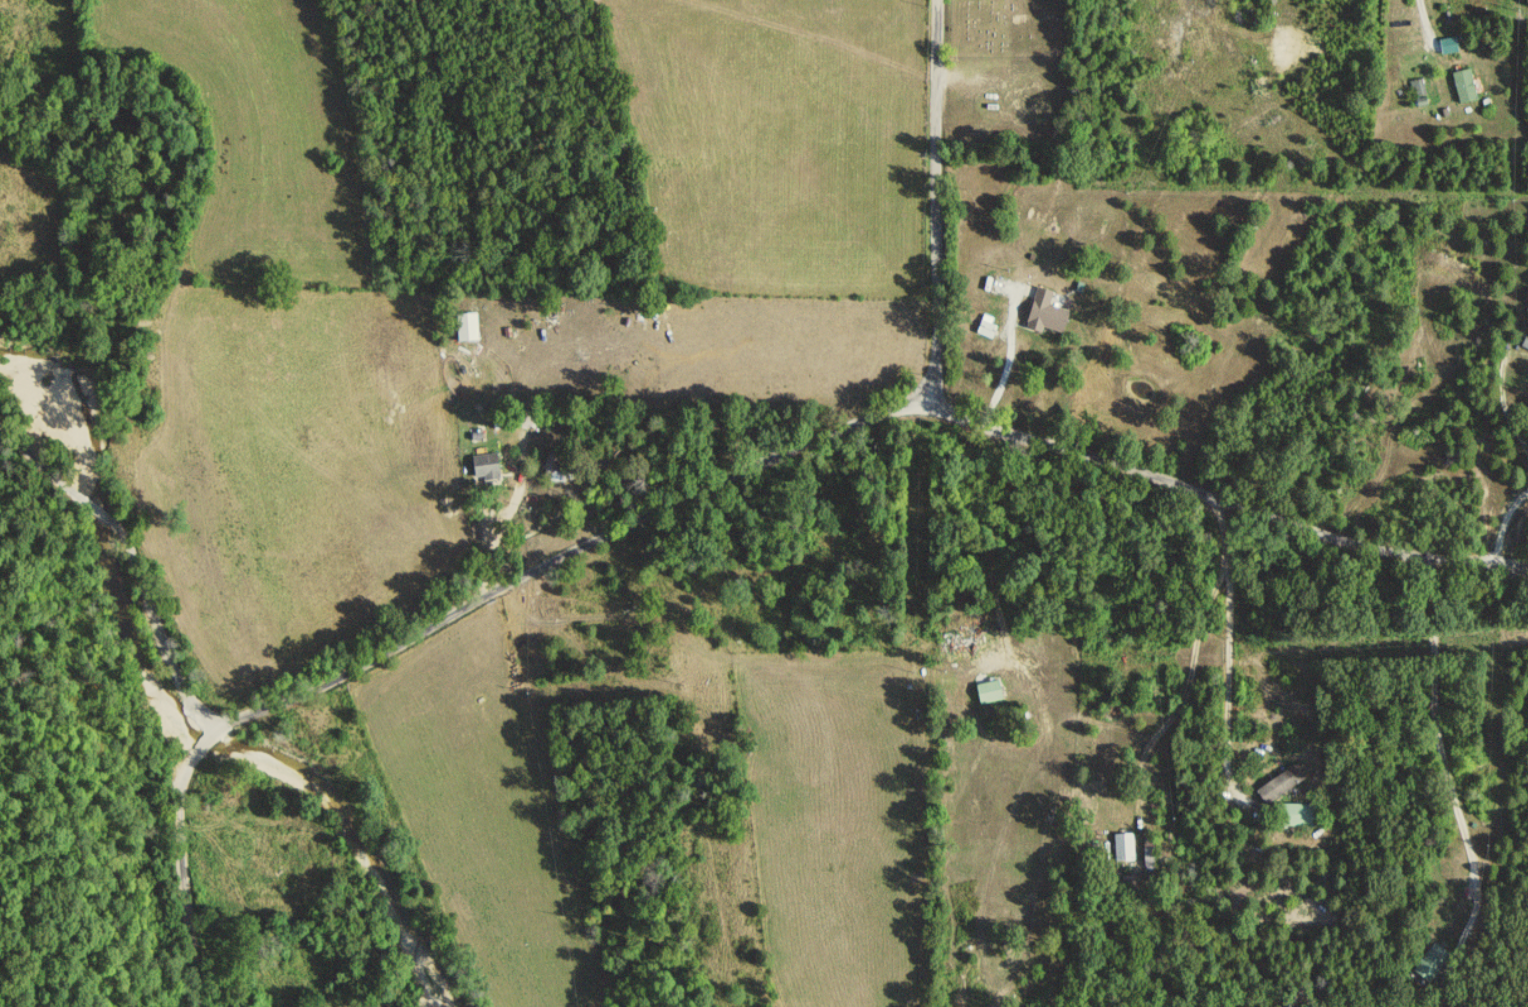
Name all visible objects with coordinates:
road: (1202, 11)
road: (1465, 43)
park: (1010, 76)
building: (1464, 87)
building: (1418, 89)
road: (932, 203)
building: (1043, 313)
road: (1014, 318)
building: (986, 327)
building: (1525, 344)
road: (1220, 385)
building: (483, 466)
road: (1220, 498)
road: (523, 517)
road: (1510, 528)
road: (993, 560)
road: (125, 599)
road: (434, 629)
road: (1225, 670)
building: (987, 692)
road: (1171, 714)
road: (1439, 736)
building: (1280, 783)
building: (1292, 815)
building: (1123, 847)
building: (1427, 965)

